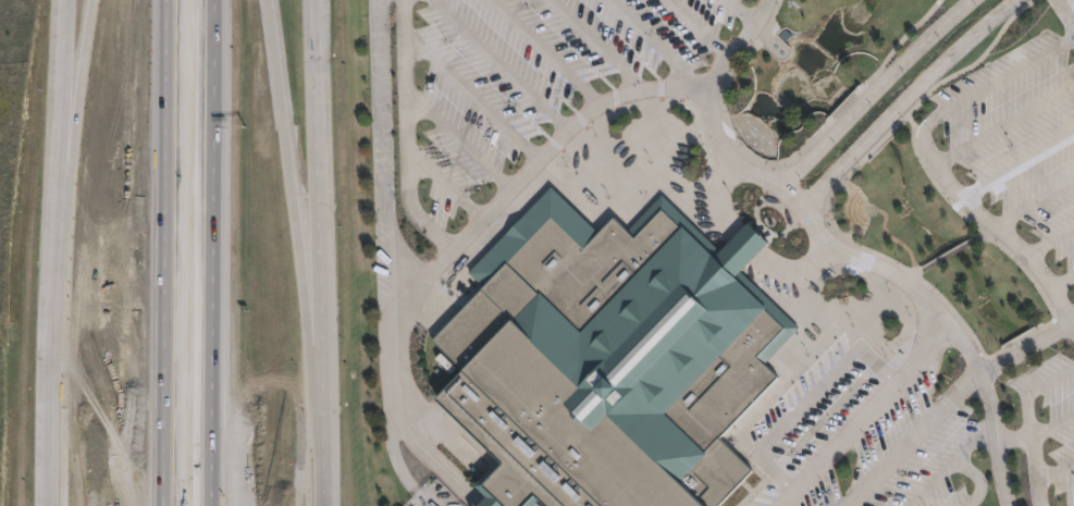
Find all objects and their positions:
road: (1054, 0)
road: (742, 12)
road: (1063, 16)
road: (695, 28)
road: (657, 45)
road: (919, 45)
road: (592, 46)
road: (540, 53)
road: (950, 57)
road: (63, 65)
road: (497, 65)
road: (1001, 79)
parking lot: (527, 84)
road: (470, 97)
road: (922, 98)
road: (854, 109)
road: (1005, 125)
road: (407, 132)
road: (877, 134)
parking lot: (1021, 135)
road: (456, 140)
road: (810, 153)
road: (786, 162)
road: (1019, 165)
road: (526, 172)
road: (316, 175)
road: (836, 180)
road: (443, 185)
road: (718, 195)
road: (1035, 205)
road: (988, 222)
road: (893, 239)
road: (828, 242)
road: (1050, 242)
road: (103, 252)
road: (139, 252)
road: (234, 252)
road: (946, 252)
road: (390, 267)
road: (782, 269)
road: (1062, 282)
road: (48, 318)
road: (1071, 324)
road: (1036, 332)
road: (927, 345)
building: (608, 359)
road: (1050, 383)
road: (806, 402)
parking lot: (867, 423)
parking lot: (1049, 427)
road: (1052, 427)
road: (319, 429)
road: (993, 437)
road: (842, 439)
road: (1013, 441)
road: (917, 443)
road: (1033, 452)
road: (397, 461)
road: (952, 465)
road: (1056, 471)
road: (975, 481)
parking lot: (431, 495)
road: (477, 505)

